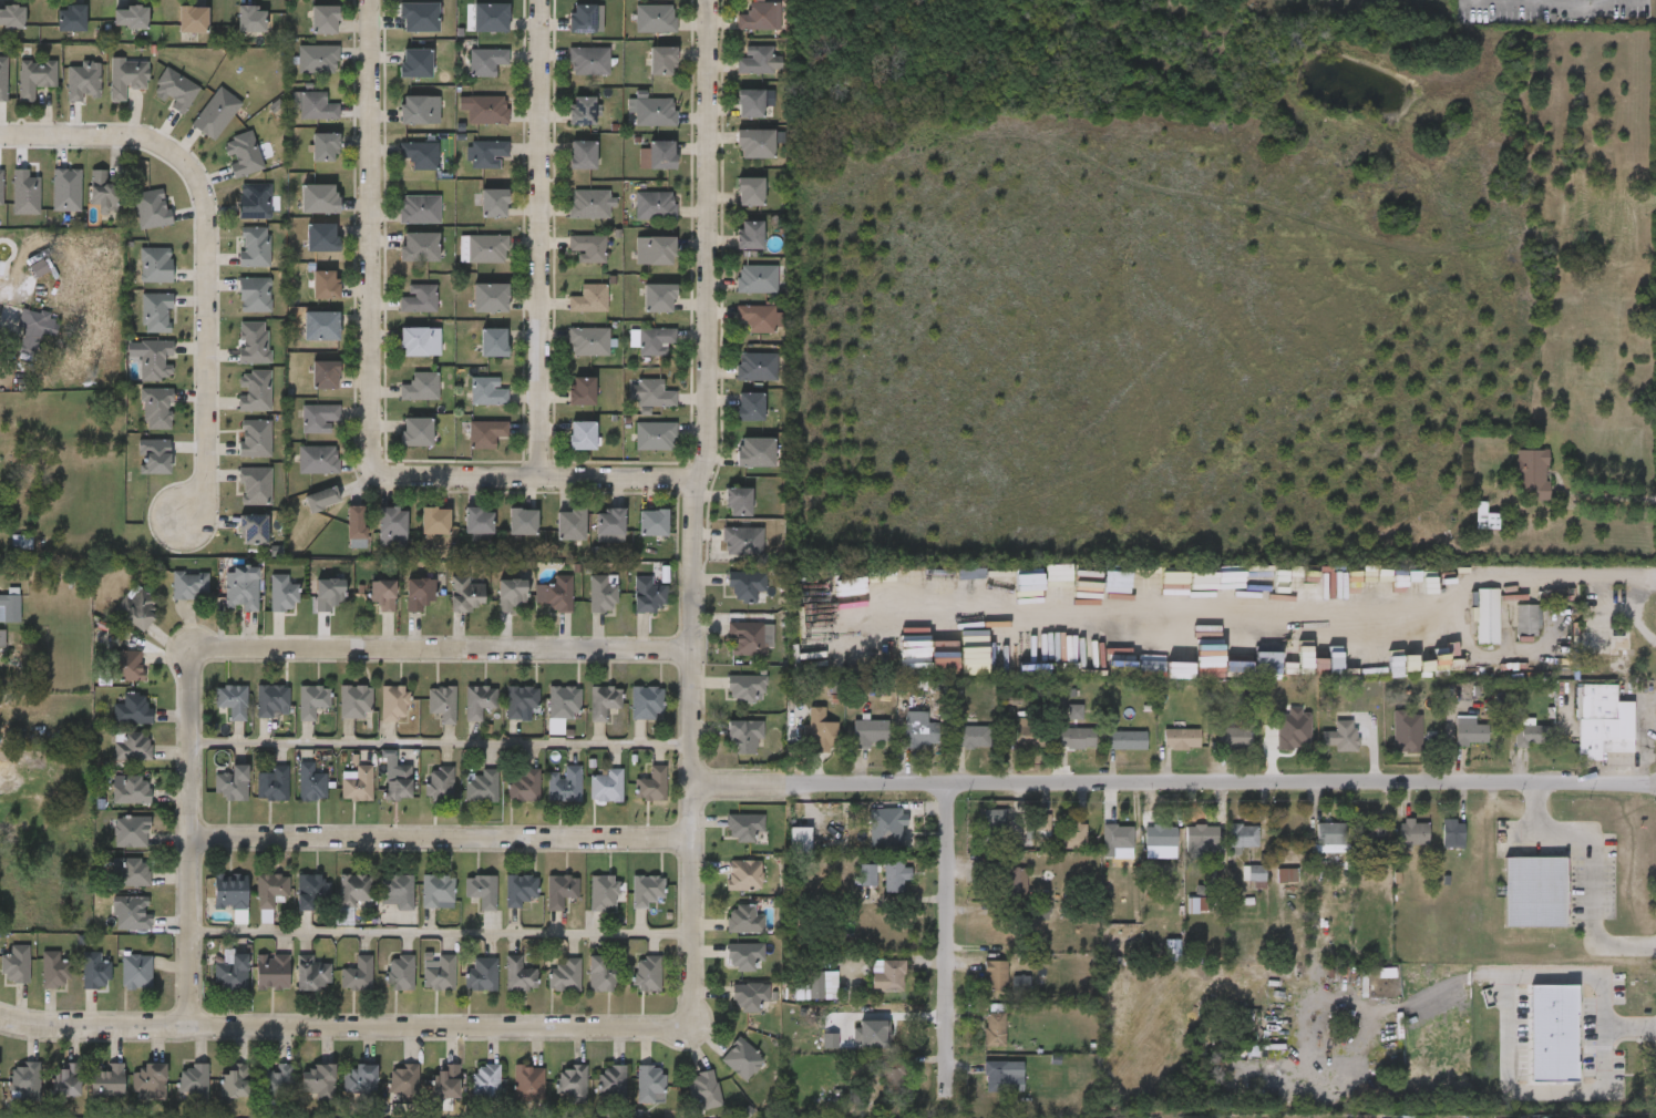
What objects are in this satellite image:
building: (1566, 0)
building: (740, 1)
building: (11, 17)
building: (130, 17)
building: (419, 17)
building: (759, 17)
building: (71, 18)
building: (490, 18)
building: (580, 18)
building: (655, 18)
building: (192, 19)
building: (250, 19)
building: (323, 20)
building: (3, 30)
building: (402, 30)
building: (742, 30)
building: (114, 31)
building: (473, 31)
building: (54, 32)
building: (637, 32)
building: (176, 33)
building: (233, 33)
building: (307, 33)
building: (317, 59)
building: (485, 61)
building: (588, 61)
building: (661, 61)
building: (759, 61)
building: (415, 63)
building: (299, 73)
building: (645, 74)
building: (741, 74)
building: (469, 75)
building: (572, 75)
building: (34, 76)
building: (126, 76)
building: (398, 78)
building: (110, 91)
building: (18, 92)
building: (66, 94)
building: (750, 104)
building: (157, 105)
building: (316, 106)
building: (419, 110)
building: (486, 110)
building: (582, 111)
building: (654, 112)
building: (732, 117)
building: (297, 120)
building: (466, 123)
building: (402, 124)
building: (565, 125)
building: (635, 125)
building: (198, 127)
building: (754, 144)
building: (325, 147)
building: (486, 154)
building: (419, 155)
building: (582, 155)
building: (661, 155)
building: (738, 157)
building: (307, 161)
building: (469, 167)
building: (226, 168)
building: (402, 168)
building: (565, 168)
building: (639, 170)
building: (101, 189)
building: (750, 192)
building: (318, 198)
building: (494, 203)
building: (49, 204)
building: (588, 204)
building: (655, 205)
building: (732, 205)
building: (10, 207)
building: (85, 208)
building: (420, 209)
building: (301, 213)
building: (238, 215)
building: (476, 217)
building: (573, 217)
building: (637, 219)
building: (134, 224)
building: (402, 224)
building: (749, 235)
building: (1571, 235)
road: (371, 237)
building: (321, 238)
road: (541, 238)
building: (419, 247)
building: (587, 248)
building: (732, 248)
building: (487, 249)
building: (655, 250)
road: (212, 252)
building: (305, 252)
building: (237, 261)
building: (402, 261)
building: (570, 261)
building: (470, 263)
building: (637, 265)
building: (138, 279)
building: (755, 279)
building: (325, 285)
building: (739, 293)
building: (308, 298)
building: (490, 298)
building: (659, 298)
building: (418, 299)
building: (589, 299)
building: (237, 308)
building: (472, 311)
building: (640, 311)
building: (402, 312)
building: (572, 312)
building: (755, 318)
building: (138, 326)
building: (320, 326)
building: (34, 328)
building: (742, 332)
building: (304, 339)
building: (419, 341)
building: (588, 341)
building: (655, 341)
building: (493, 342)
building: (572, 355)
building: (638, 355)
building: (236, 356)
building: (402, 356)
building: (476, 356)
building: (757, 367)
building: (137, 373)
building: (325, 376)
building: (739, 380)
building: (420, 387)
building: (307, 388)
building: (487, 391)
building: (582, 391)
building: (649, 393)
building: (403, 401)
building: (237, 404)
building: (564, 404)
building: (470, 406)
building: (749, 407)
building: (632, 409)
building: (318, 418)
building: (732, 420)
building: (140, 422)
building: (301, 432)
building: (415, 432)
building: (485, 433)
building: (655, 435)
building: (582, 437)
building: (399, 445)
building: (469, 448)
building: (565, 449)
building: (637, 450)
building: (238, 452)
building: (754, 452)
building: (318, 460)
building: (738, 465)
building: (138, 470)
building: (301, 473)
building: (1532, 473)
road: (535, 475)
building: (1514, 486)
building: (237, 500)
building: (321, 500)
building: (738, 502)
building: (305, 513)
building: (720, 515)
building: (1484, 517)
building: (434, 522)
building: (477, 522)
building: (522, 522)
building: (652, 523)
building: (356, 524)
building: (570, 524)
building: (609, 524)
building: (392, 527)
building: (1467, 531)
building: (418, 534)
building: (461, 534)
building: (505, 535)
building: (636, 536)
building: (554, 539)
building: (374, 540)
building: (593, 540)
building: (339, 541)
building: (574, 541)
building: (741, 542)
building: (233, 543)
building: (722, 554)
building: (7, 555)
building: (189, 584)
building: (747, 586)
building: (240, 591)
building: (513, 594)
building: (557, 594)
building: (603, 594)
building: (282, 595)
building: (328, 595)
building: (381, 595)
building: (419, 595)
building: (464, 595)
building: (648, 595)
road: (1605, 597)
building: (172, 598)
building: (729, 598)
road: (1636, 599)
building: (1241, 601)
building: (225, 602)
building: (494, 606)
building: (265, 607)
building: (311, 607)
building: (401, 607)
building: (538, 607)
building: (584, 607)
building: (135, 608)
building: (448, 608)
building: (630, 608)
building: (9, 609)
building: (364, 609)
road: (1253, 609)
building: (1487, 616)
building: (1526, 620)
building: (120, 623)
building: (1469, 629)
building: (1509, 634)
building: (750, 638)
building: (1, 639)
road: (441, 650)
building: (732, 652)
building: (1286, 655)
building: (1325, 663)
building: (125, 666)
building: (1302, 674)
building: (111, 679)
building: (745, 686)
building: (270, 699)
building: (520, 699)
building: (728, 700)
building: (232, 701)
building: (311, 701)
building: (479, 701)
building: (356, 702)
building: (564, 702)
building: (604, 702)
building: (646, 702)
building: (393, 704)
building: (442, 704)
building: (131, 710)
building: (255, 714)
building: (503, 714)
building: (215, 715)
building: (295, 715)
building: (338, 715)
building: (461, 715)
building: (377, 716)
building: (546, 716)
building: (586, 716)
building: (628, 716)
building: (424, 717)
building: (115, 724)
building: (919, 730)
building: (821, 732)
building: (870, 732)
building: (1237, 732)
building: (1472, 735)
building: (1585, 735)
building: (743, 736)
building: (1030, 736)
building: (1341, 736)
building: (974, 737)
building: (1532, 737)
building: (1077, 738)
building: (1182, 739)
building: (1127, 740)
road: (439, 743)
building: (901, 743)
building: (1388, 745)
building: (1450, 745)
building: (852, 746)
building: (1010, 746)
building: (1511, 746)
building: (132, 747)
building: (727, 748)
building: (1215, 749)
building: (1324, 749)
building: (956, 750)
building: (1059, 751)
building: (1163, 752)
building: (1109, 753)
building: (115, 760)
building: (6, 780)
building: (311, 783)
road: (1174, 783)
building: (232, 784)
building: (272, 784)
building: (399, 784)
building: (440, 784)
building: (564, 784)
building: (357, 786)
building: (605, 786)
building: (651, 786)
building: (481, 787)
building: (523, 787)
building: (130, 790)
building: (422, 796)
building: (215, 797)
building: (294, 797)
building: (381, 797)
building: (340, 798)
building: (547, 798)
building: (634, 798)
building: (257, 799)
building: (464, 800)
building: (506, 800)
building: (589, 800)
road: (40, 803)
building: (114, 803)
building: (885, 825)
building: (743, 827)
building: (994, 827)
building: (977, 831)
building: (1453, 832)
building: (128, 833)
building: (1371, 833)
building: (1415, 833)
building: (1073, 834)
building: (1025, 835)
building: (1243, 835)
building: (1333, 835)
road: (440, 837)
building: (1119, 837)
building: (1161, 837)
road: (186, 839)
building: (1202, 839)
building: (727, 840)
building: (800, 840)
building: (867, 840)
building: (114, 844)
building: (1356, 847)
building: (1395, 847)
building: (1434, 848)
building: (1056, 849)
building: (1141, 849)
building: (1098, 851)
building: (1224, 851)
building: (1312, 851)
building: (782, 852)
building: (1183, 852)
road: (693, 854)
road: (1594, 870)
building: (132, 871)
building: (1257, 873)
building: (743, 875)
building: (867, 875)
building: (1287, 875)
building: (896, 878)
building: (1005, 881)
building: (117, 884)
building: (1235, 886)
building: (727, 888)
building: (850, 889)
building: (877, 889)
building: (1268, 889)
building: (270, 890)
building: (518, 890)
building: (354, 891)
building: (481, 891)
building: (559, 891)
building: (647, 891)
building: (229, 892)
building: (311, 892)
building: (397, 892)
building: (438, 892)
building: (603, 893)
building: (997, 894)
building: (254, 903)
building: (337, 903)
building: (503, 903)
building: (629, 903)
building: (213, 904)
building: (294, 904)
building: (464, 904)
building: (543, 904)
building: (1516, 904)
building: (381, 905)
building: (420, 905)
building: (585, 905)
building: (130, 913)
building: (1177, 917)
building: (742, 919)
building: (113, 926)
building: (999, 930)
road: (439, 932)
building: (727, 933)
road: (947, 943)
building: (744, 955)
building: (14, 965)
building: (726, 968)
building: (54, 971)
building: (94, 971)
building: (135, 972)
building: (271, 972)
building: (400, 973)
building: (230, 974)
building: (311, 974)
building: (356, 974)
building: (481, 974)
building: (603, 974)
building: (647, 974)
building: (439, 975)
building: (518, 975)
building: (564, 975)
building: (889, 975)
building: (996, 976)
building: (37, 984)
building: (78, 985)
building: (120, 985)
building: (215, 985)
building: (255, 985)
building: (295, 986)
building: (383, 986)
building: (421, 986)
building: (340, 987)
building: (584, 987)
building: (629, 987)
building: (464, 988)
building: (502, 988)
building: (978, 988)
building: (547, 989)
building: (871, 989)
building: (749, 995)
building: (1002, 996)
building: (801, 1001)
building: (731, 1009)
road: (1629, 1023)
building: (996, 1029)
building: (977, 1043)
building: (1534, 1046)
building: (742, 1059)
building: (724, 1073)
building: (892, 1075)
building: (996, 1076)
building: (148, 1079)
building: (192, 1079)
building: (319, 1079)
building: (359, 1079)
building: (403, 1079)
building: (24, 1080)
building: (65, 1080)
building: (106, 1080)
building: (611, 1080)
building: (234, 1081)
building: (445, 1081)
building: (276, 1083)
building: (527, 1083)
building: (572, 1083)
building: (649, 1083)
building: (485, 1084)
building: (875, 1087)
building: (977, 1089)
road: (1511, 1089)
building: (706, 1090)
building: (11, 1093)
building: (259, 1093)
building: (133, 1094)
building: (301, 1094)
building: (342, 1094)
building: (467, 1095)
building: (555, 1095)
building: (48, 1096)
building: (91, 1096)
building: (175, 1096)
building: (428, 1096)
building: (511, 1096)
building: (594, 1096)
building: (631, 1096)
building: (387, 1097)
building: (217, 1100)
building: (687, 1100)

